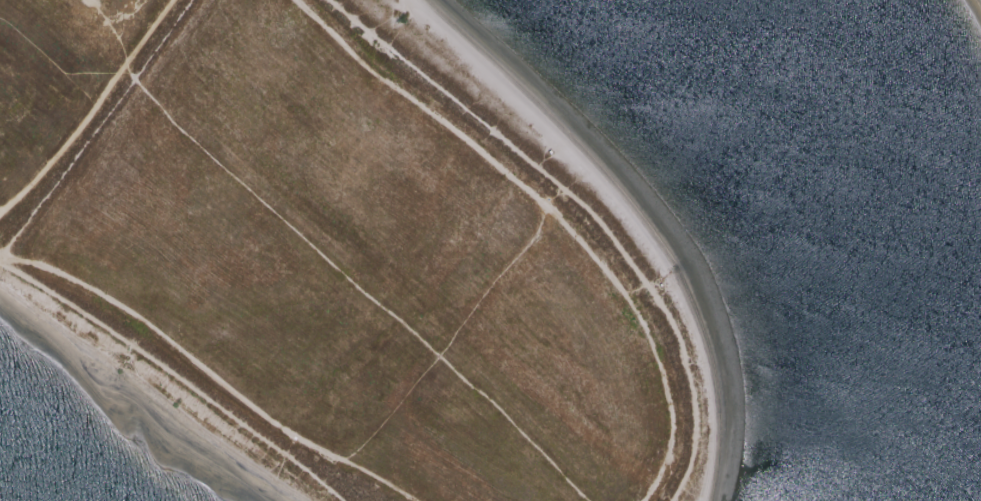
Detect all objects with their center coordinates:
road: (93, 112)
road: (549, 211)
park: (345, 255)
road: (332, 303)
road: (453, 349)
road: (198, 368)

